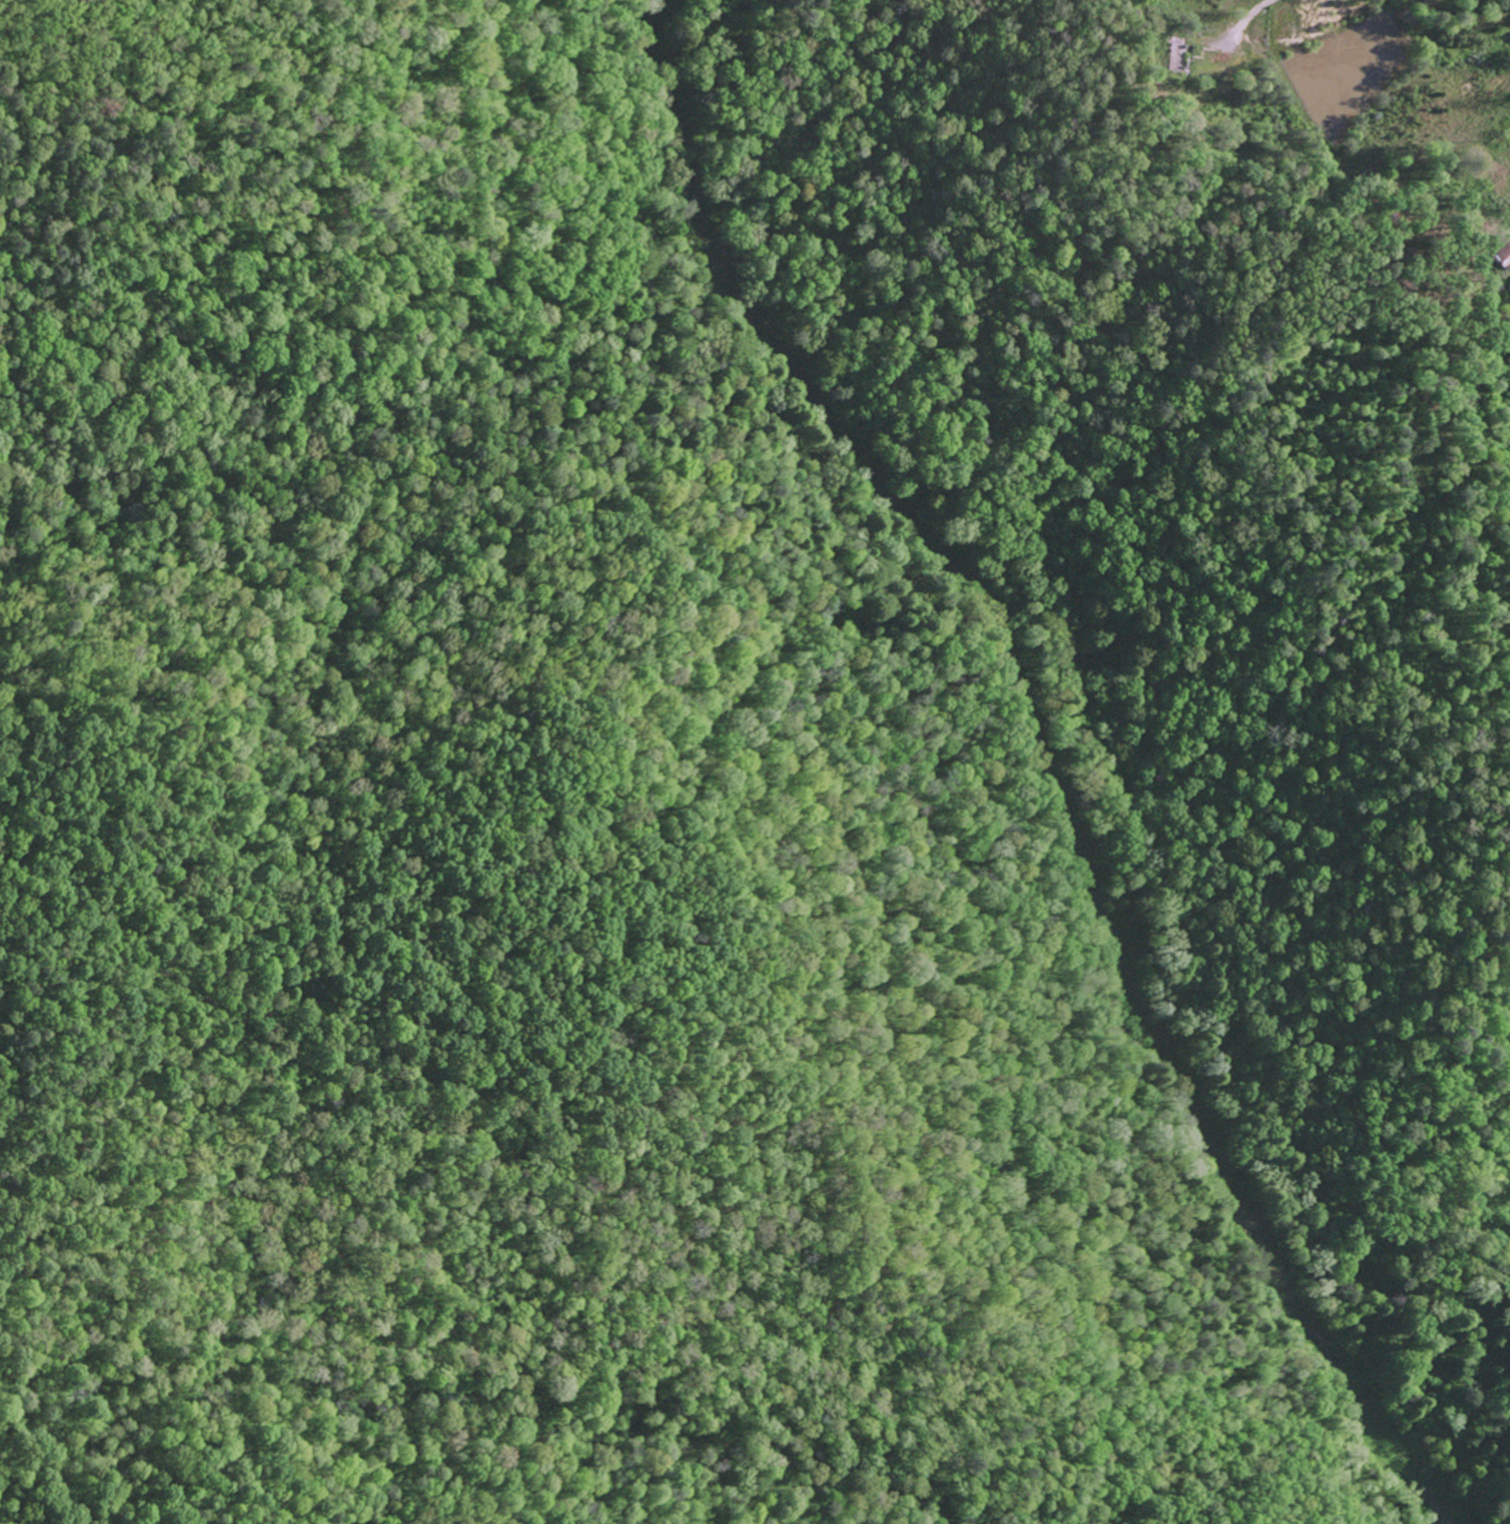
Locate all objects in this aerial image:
road: (1251, 16)

